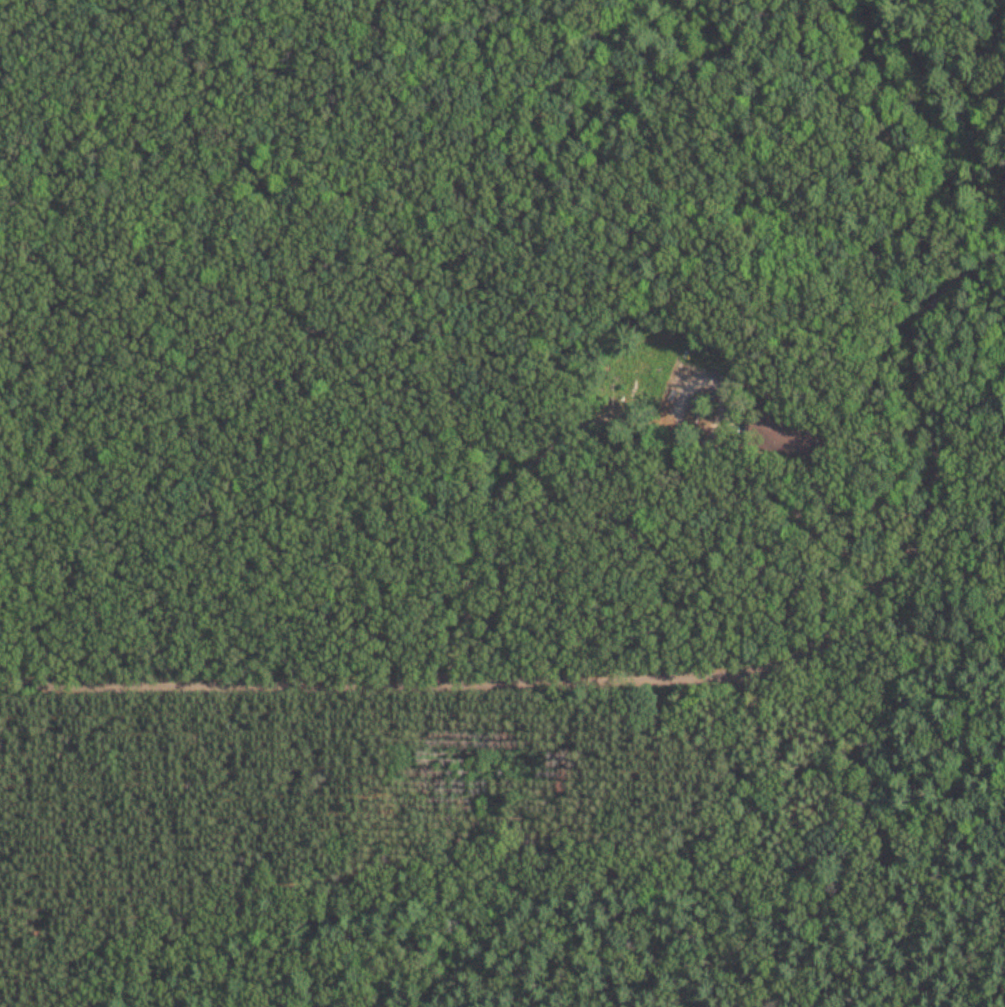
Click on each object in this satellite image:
road: (834, 289)
road: (394, 298)
parking lot: (684, 398)
road: (606, 419)
building: (780, 426)
road: (660, 675)
road: (844, 791)
road: (423, 863)
road: (892, 919)

